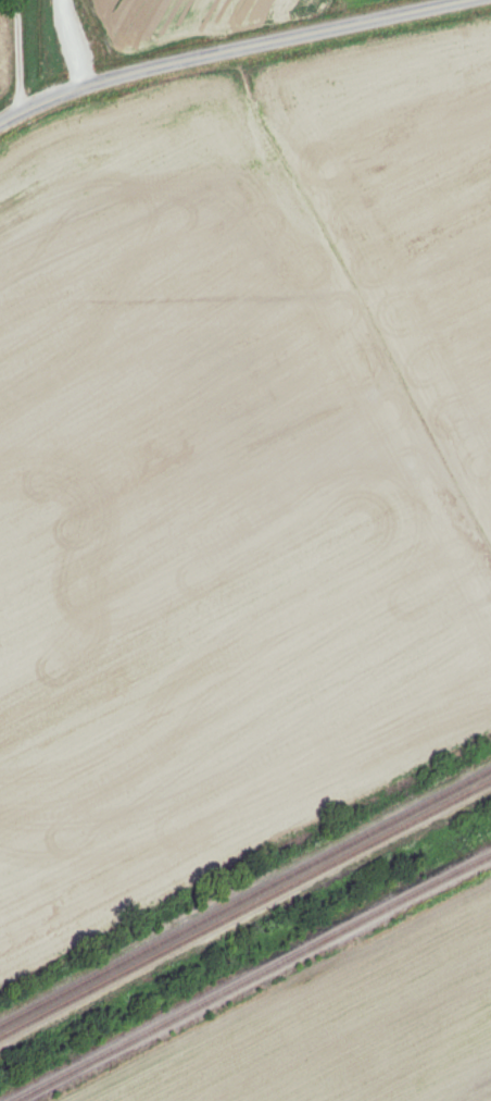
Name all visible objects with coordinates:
road: (71, 44)
road: (238, 51)
road: (16, 57)
railway: (246, 896)
railway: (244, 907)
railway: (252, 976)

